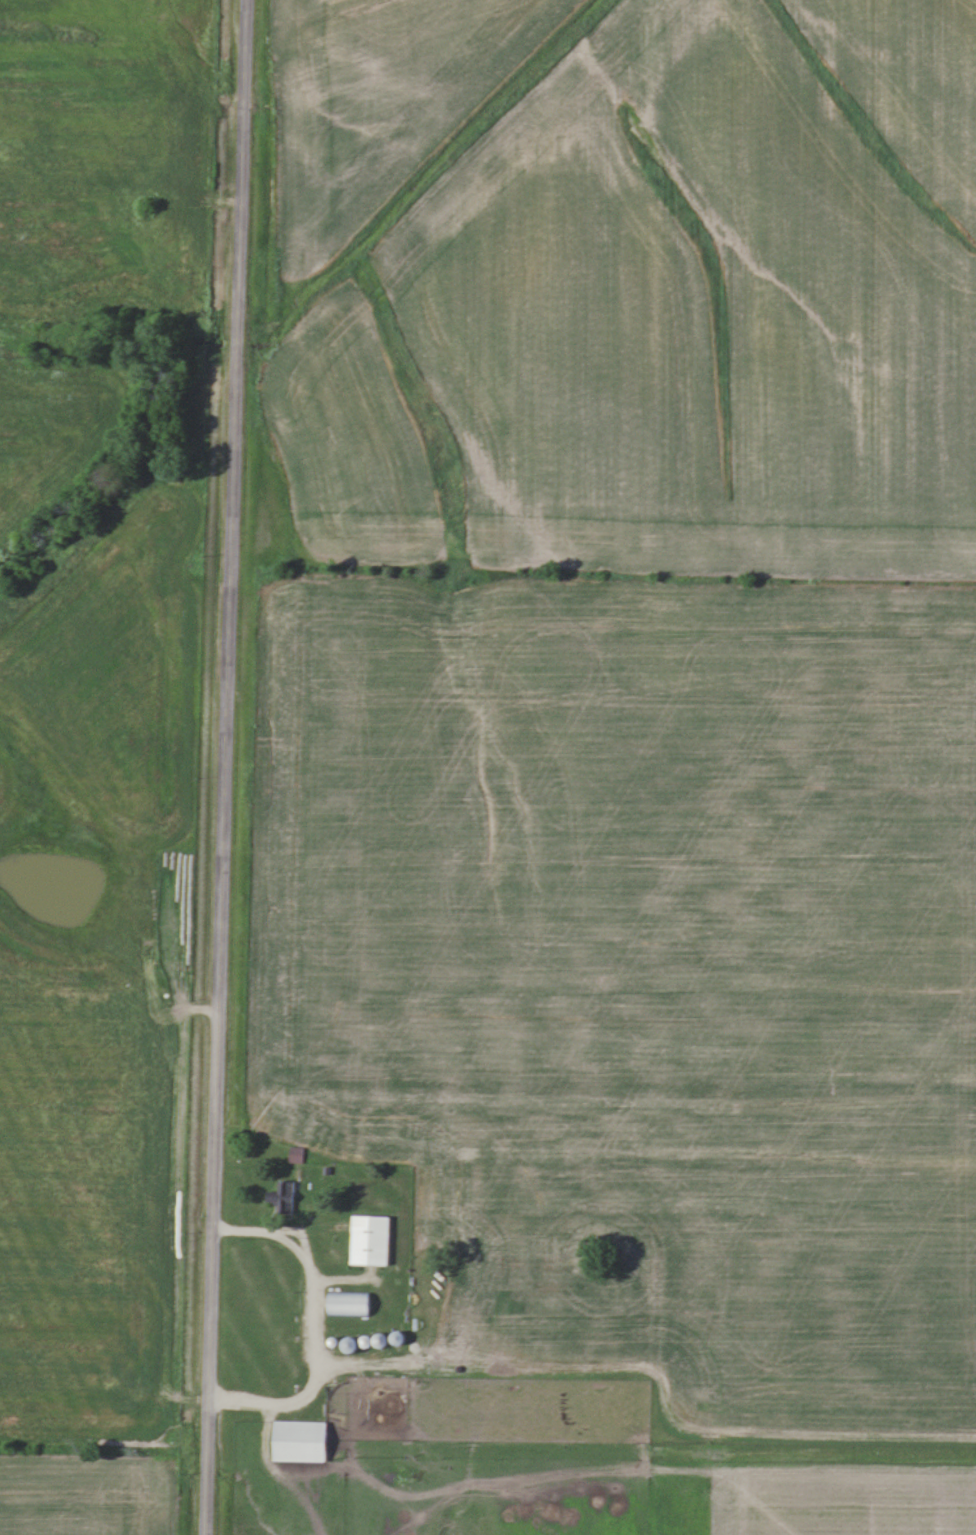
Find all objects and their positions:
road: (223, 767)
building: (294, 1155)
building: (281, 1198)
building: (369, 1241)
building: (347, 1304)
building: (299, 1442)

